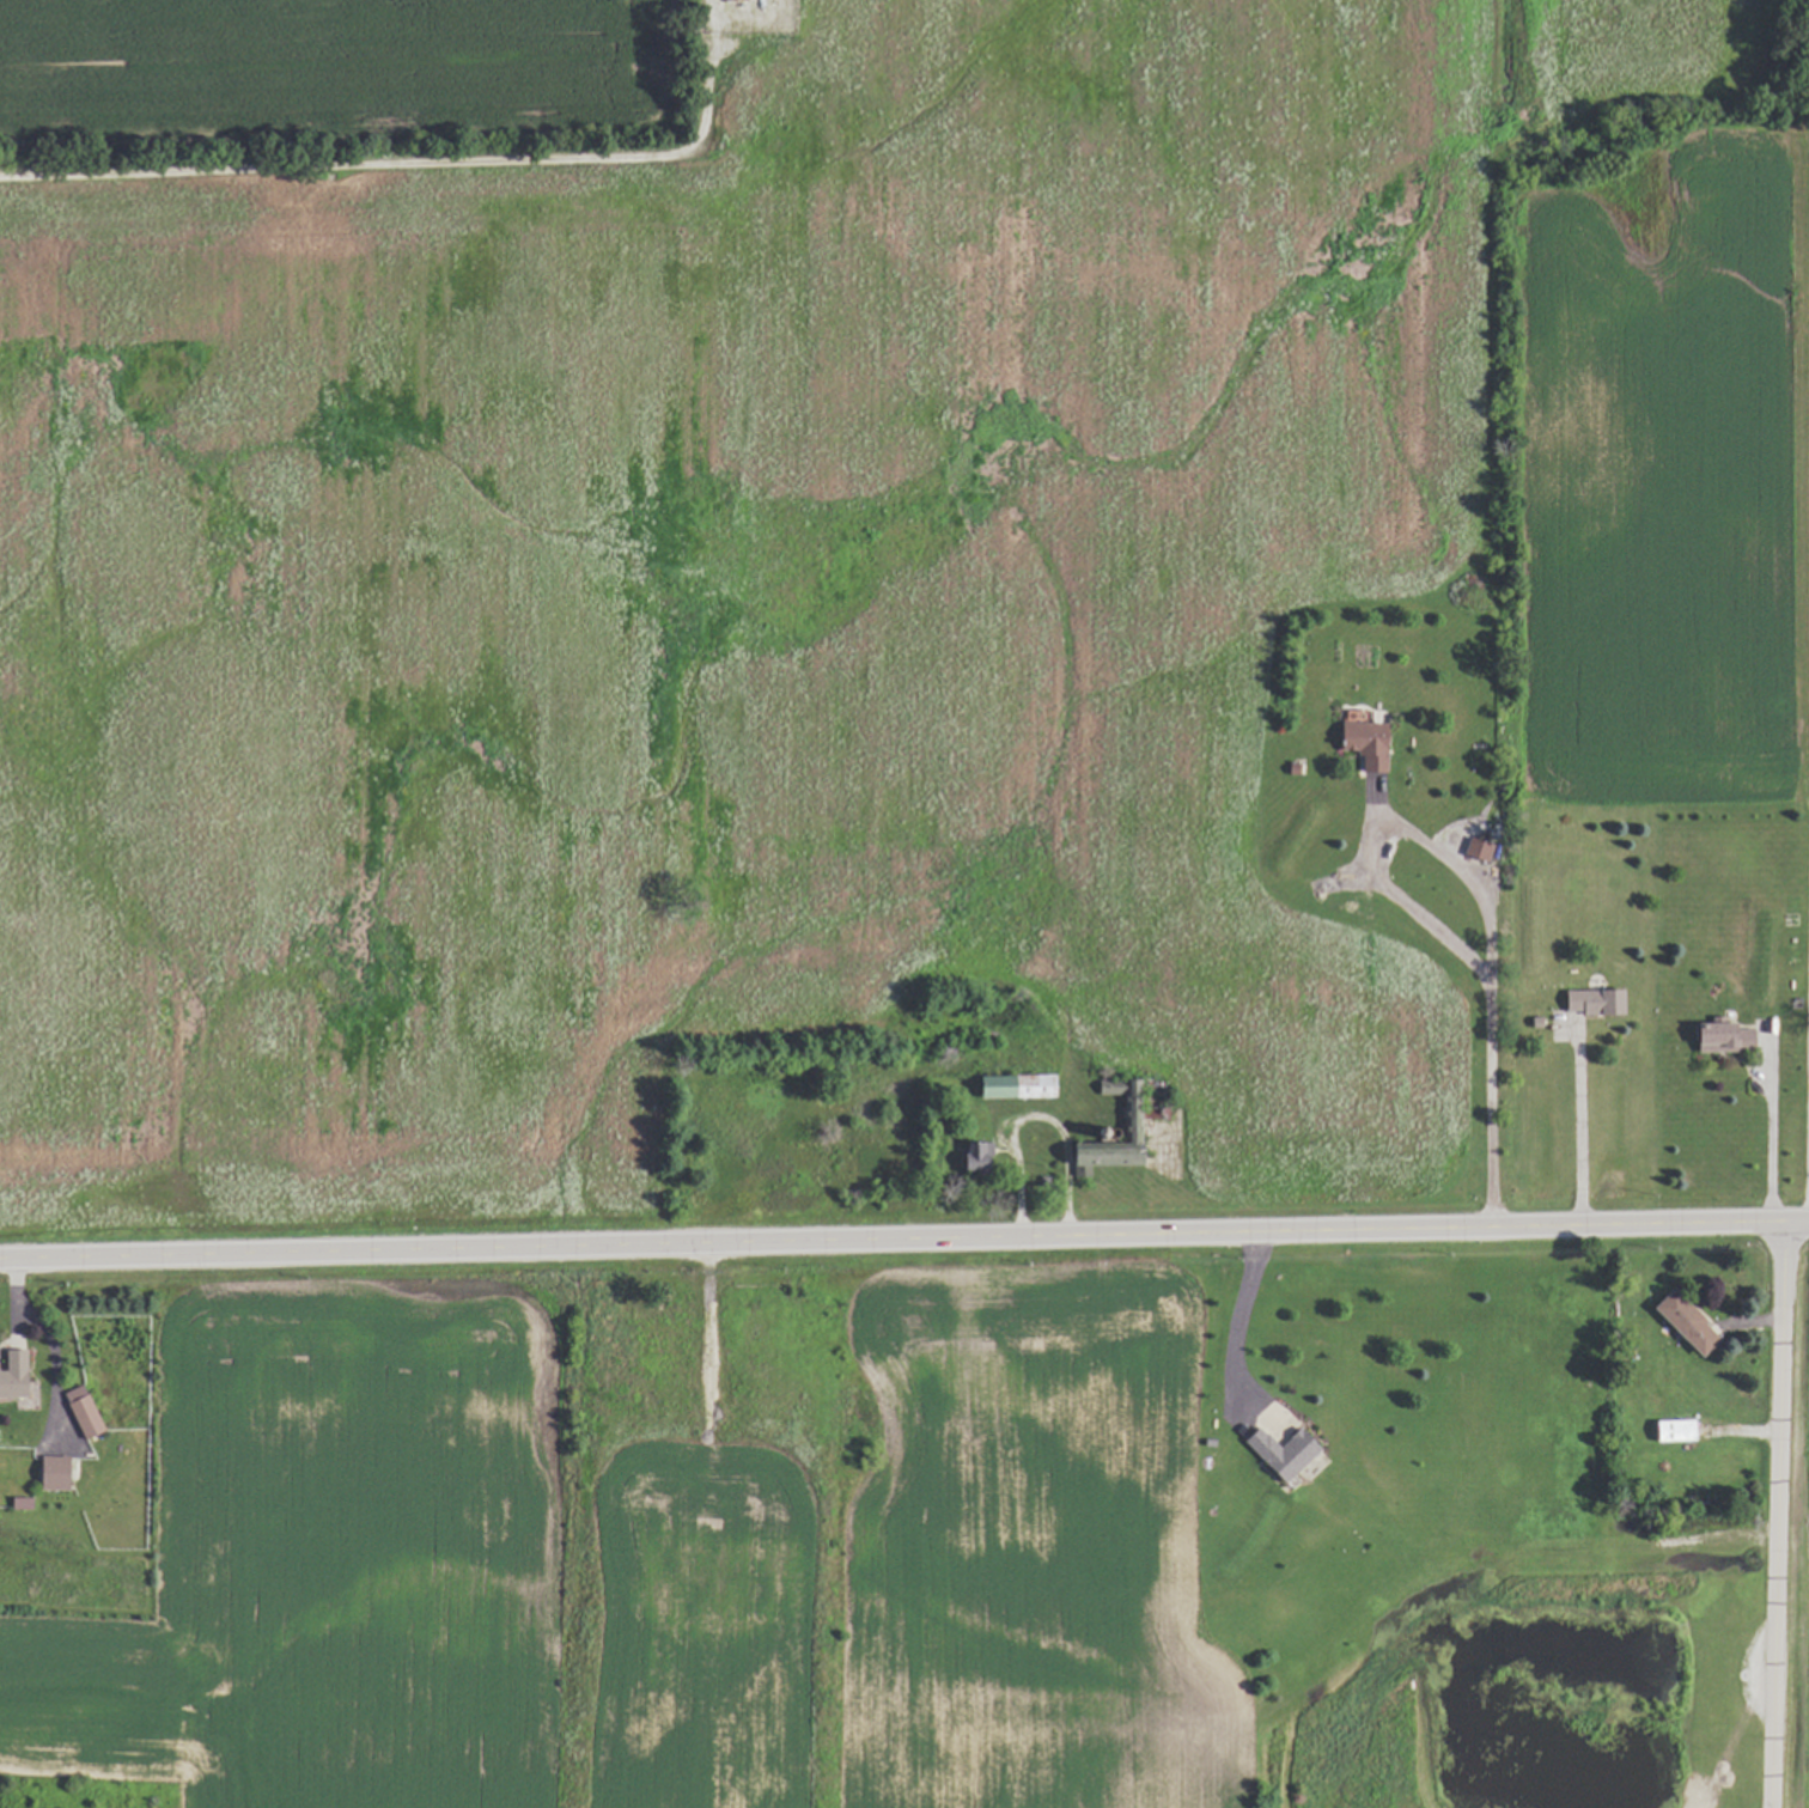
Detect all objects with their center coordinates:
road: (414, 158)
crop: (822, 546)
building: (1358, 739)
building: (1473, 848)
road: (1482, 906)
building: (1588, 1002)
building: (1716, 1036)
road: (1808, 1084)
building: (1011, 1085)
building: (1105, 1088)
road: (1034, 1115)
road: (1576, 1136)
building: (1104, 1146)
road: (1768, 1146)
building: (970, 1156)
road: (904, 1242)
road: (1235, 1311)
building: (1680, 1322)
building: (10, 1374)
building: (78, 1412)
building: (1671, 1430)
building: (1277, 1451)
building: (50, 1473)
building: (17, 1503)
road: (1778, 1515)

